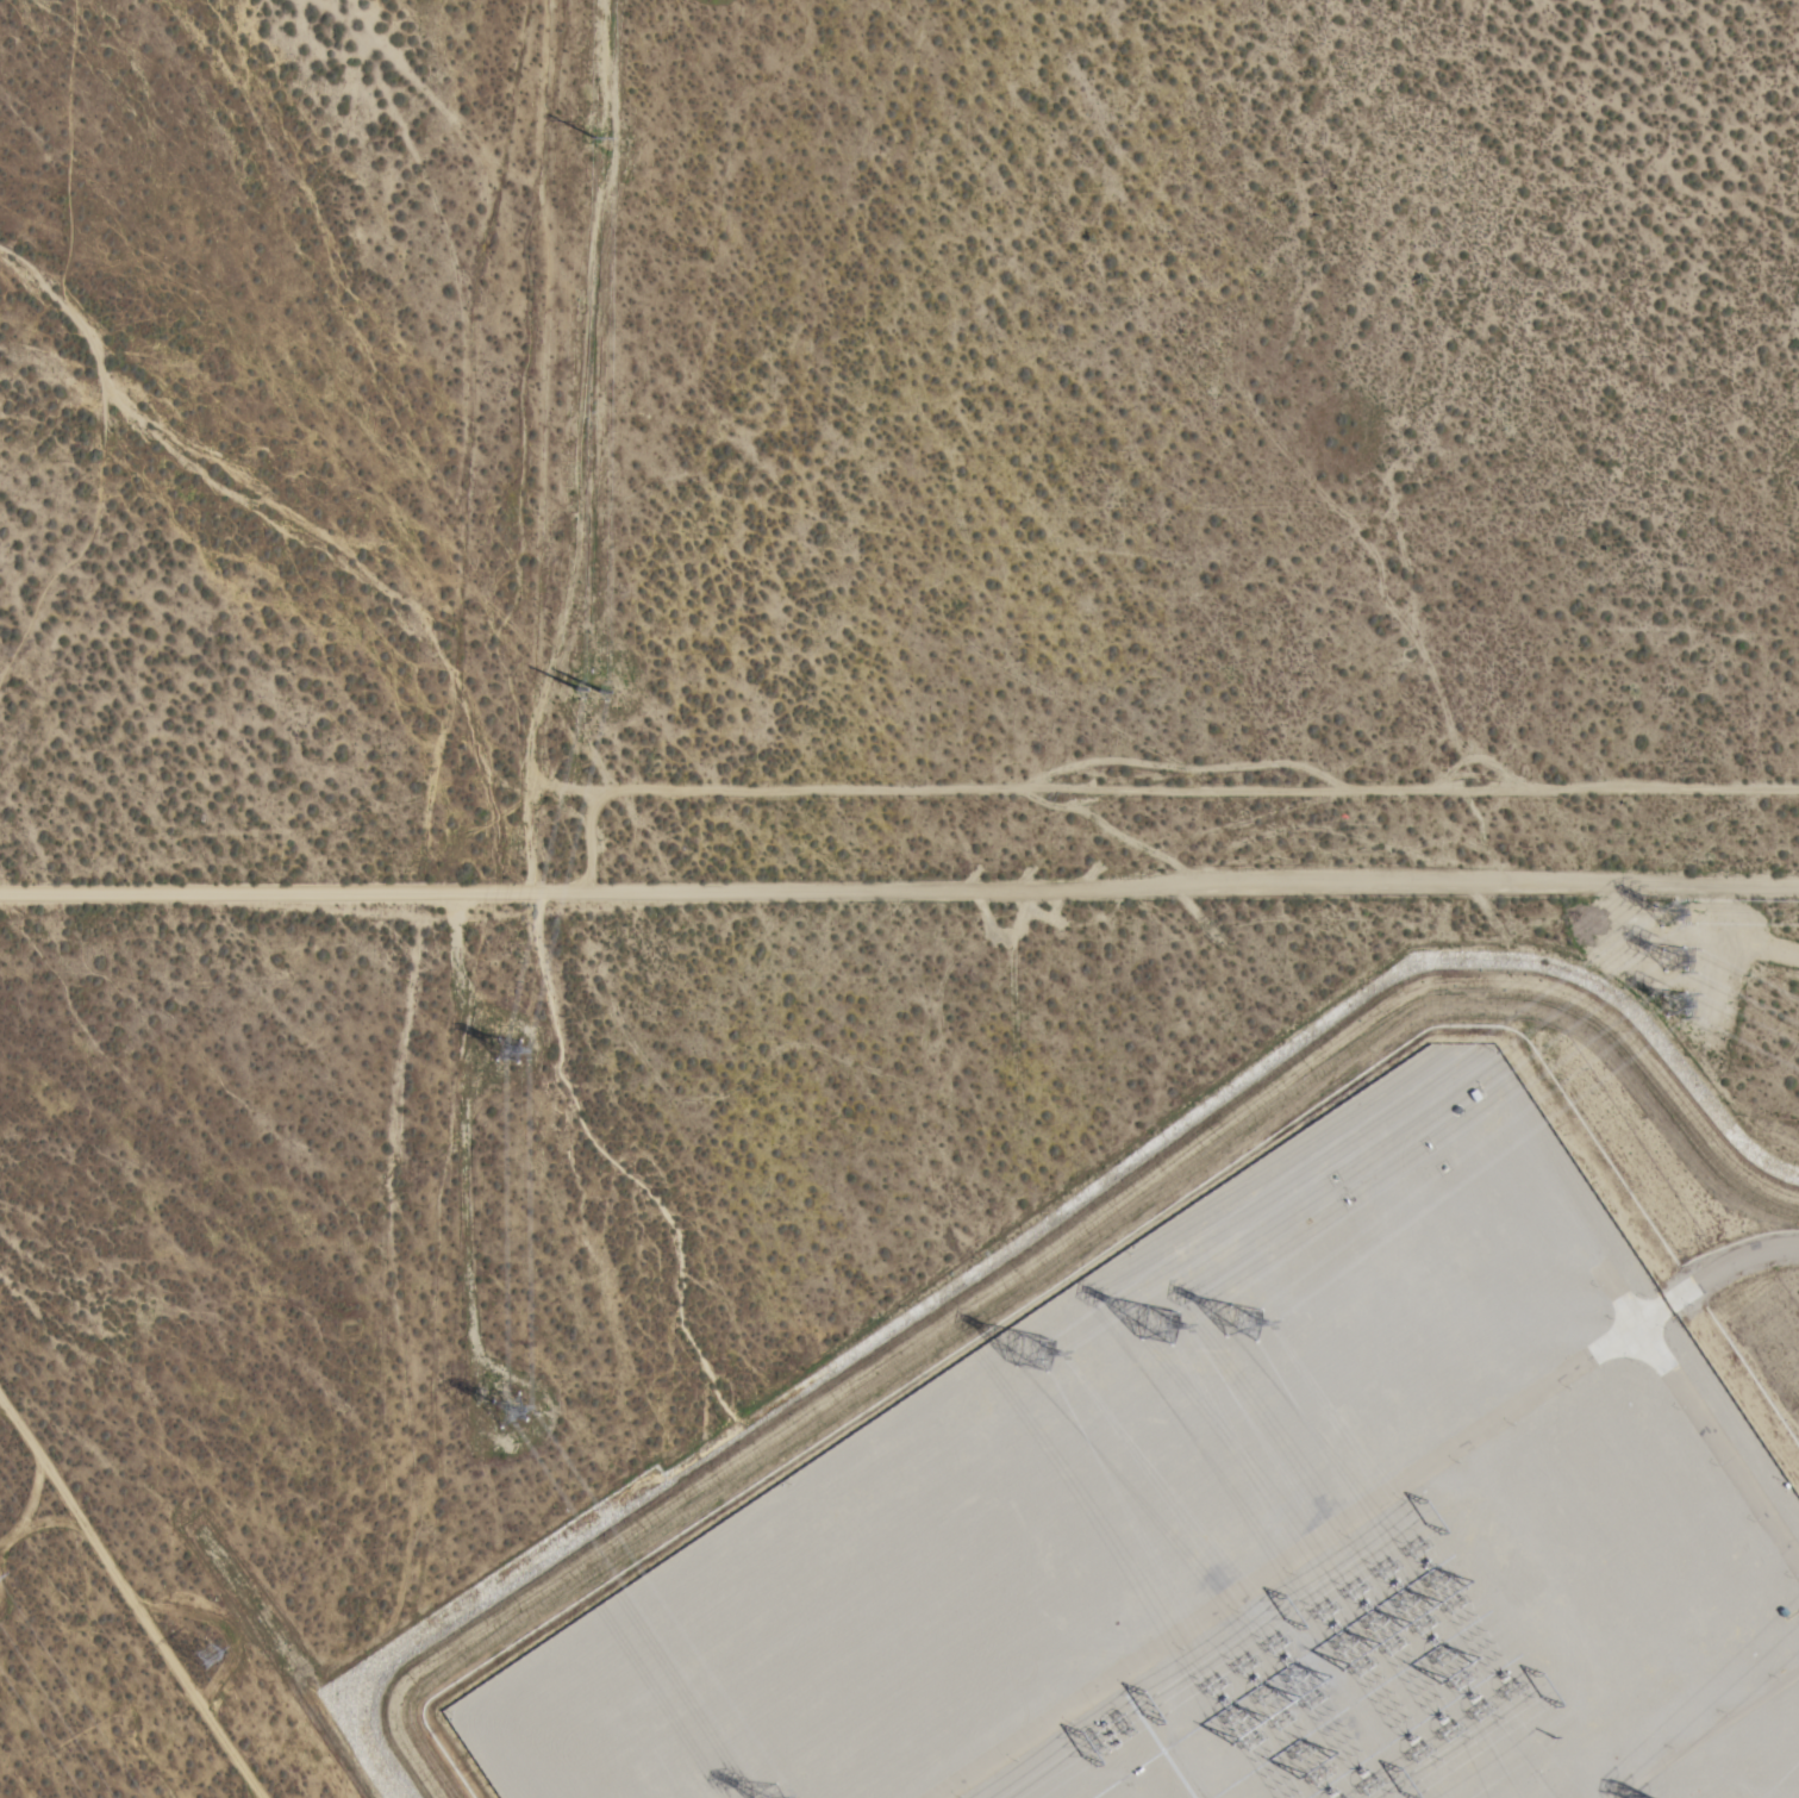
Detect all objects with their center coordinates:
power tower: (600, 137)
power tower: (586, 678)
road: (899, 901)
power tower: (1668, 912)
power tower: (1674, 955)
power tower: (1676, 1006)
road: (1725, 1261)
power tower: (1155, 1318)
power tower: (1238, 1323)
power tower: (1031, 1347)
power tower: (513, 1406)
power substation: (1242, 1525)
power tower: (1408, 1584)
power tower: (1356, 1622)
power tower: (217, 1650)
power tower: (1264, 1694)
power tower: (773, 1792)

